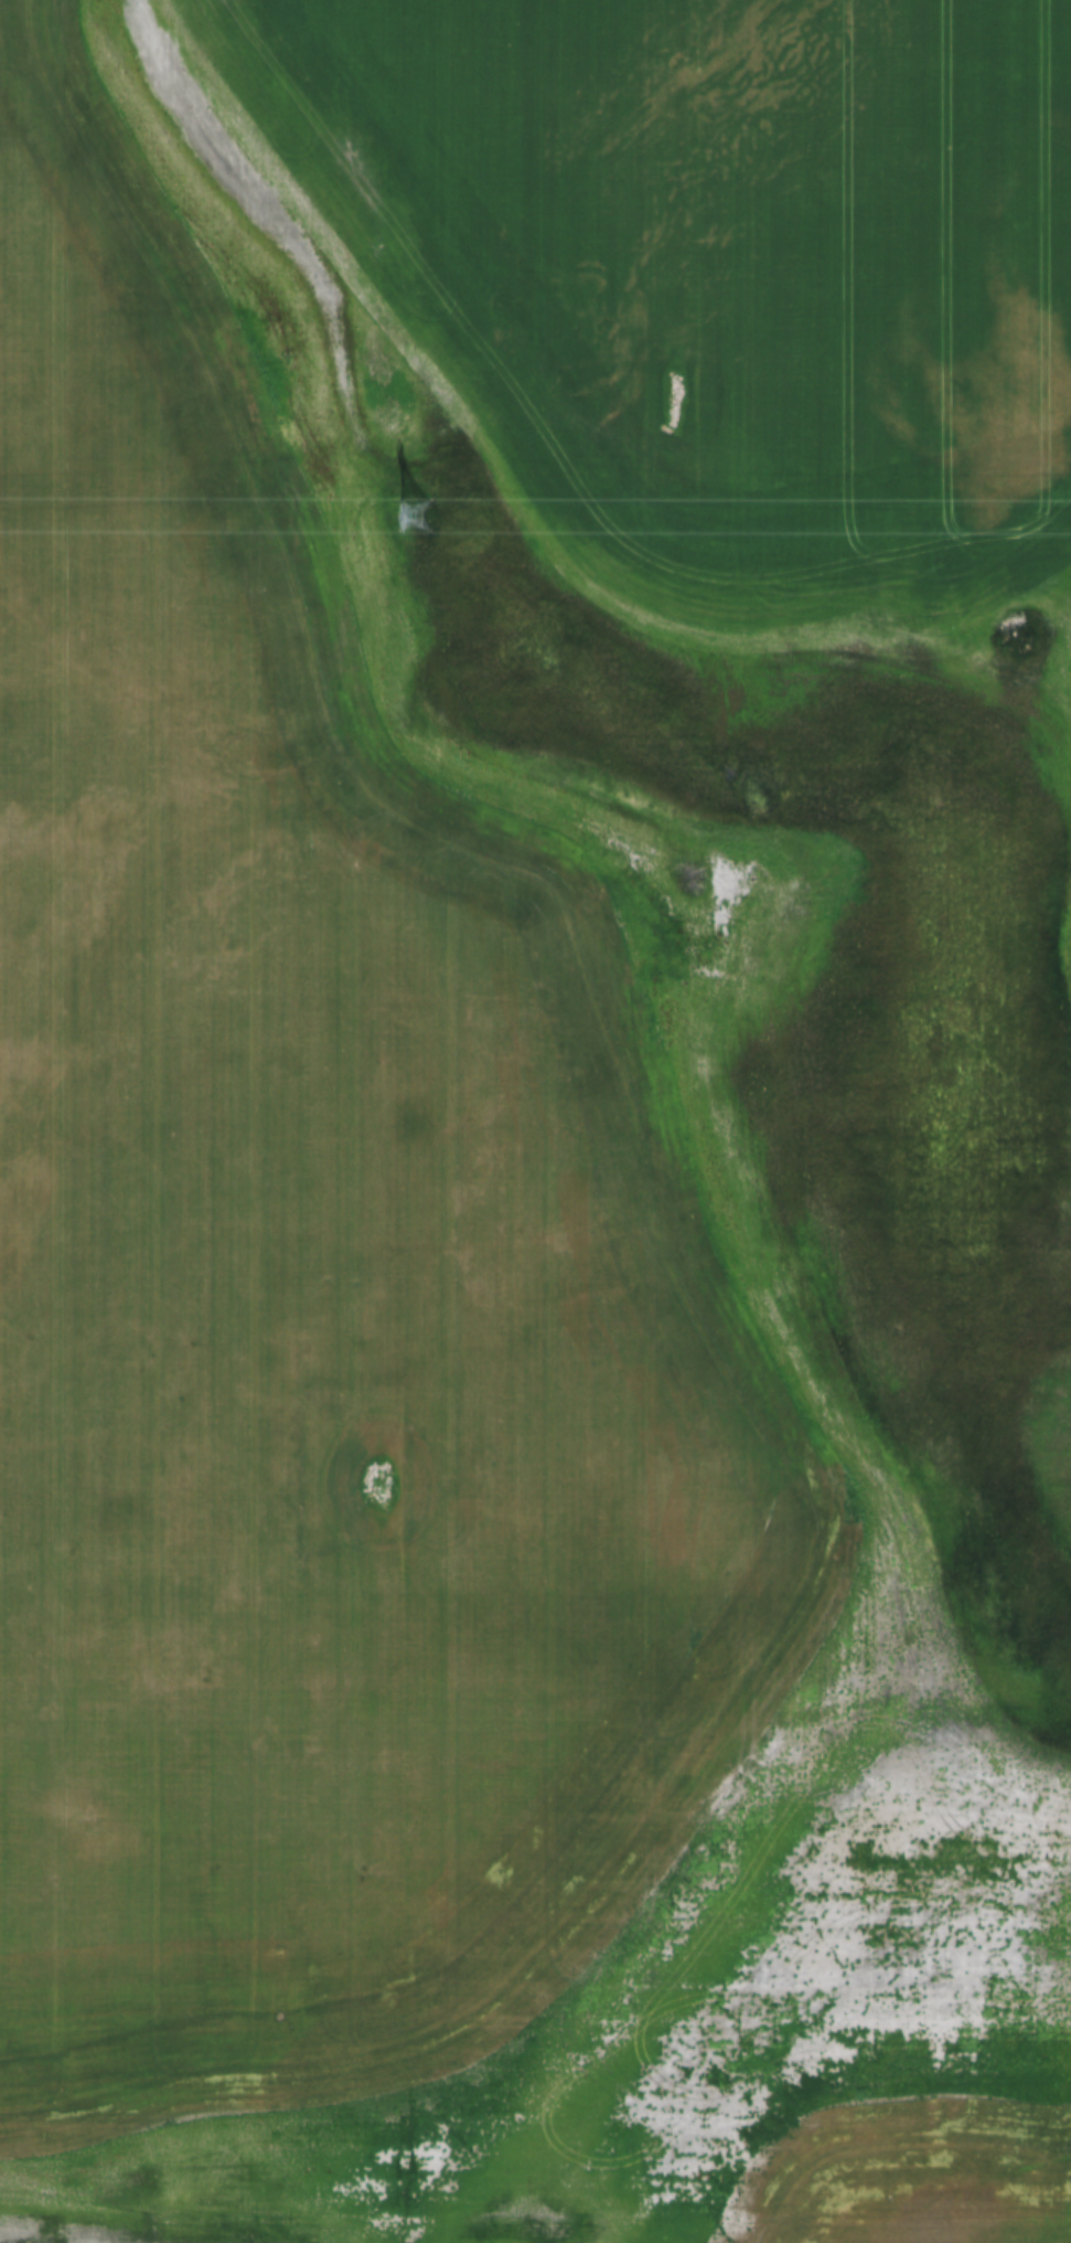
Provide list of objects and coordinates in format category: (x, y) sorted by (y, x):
power tower: (426, 513)

